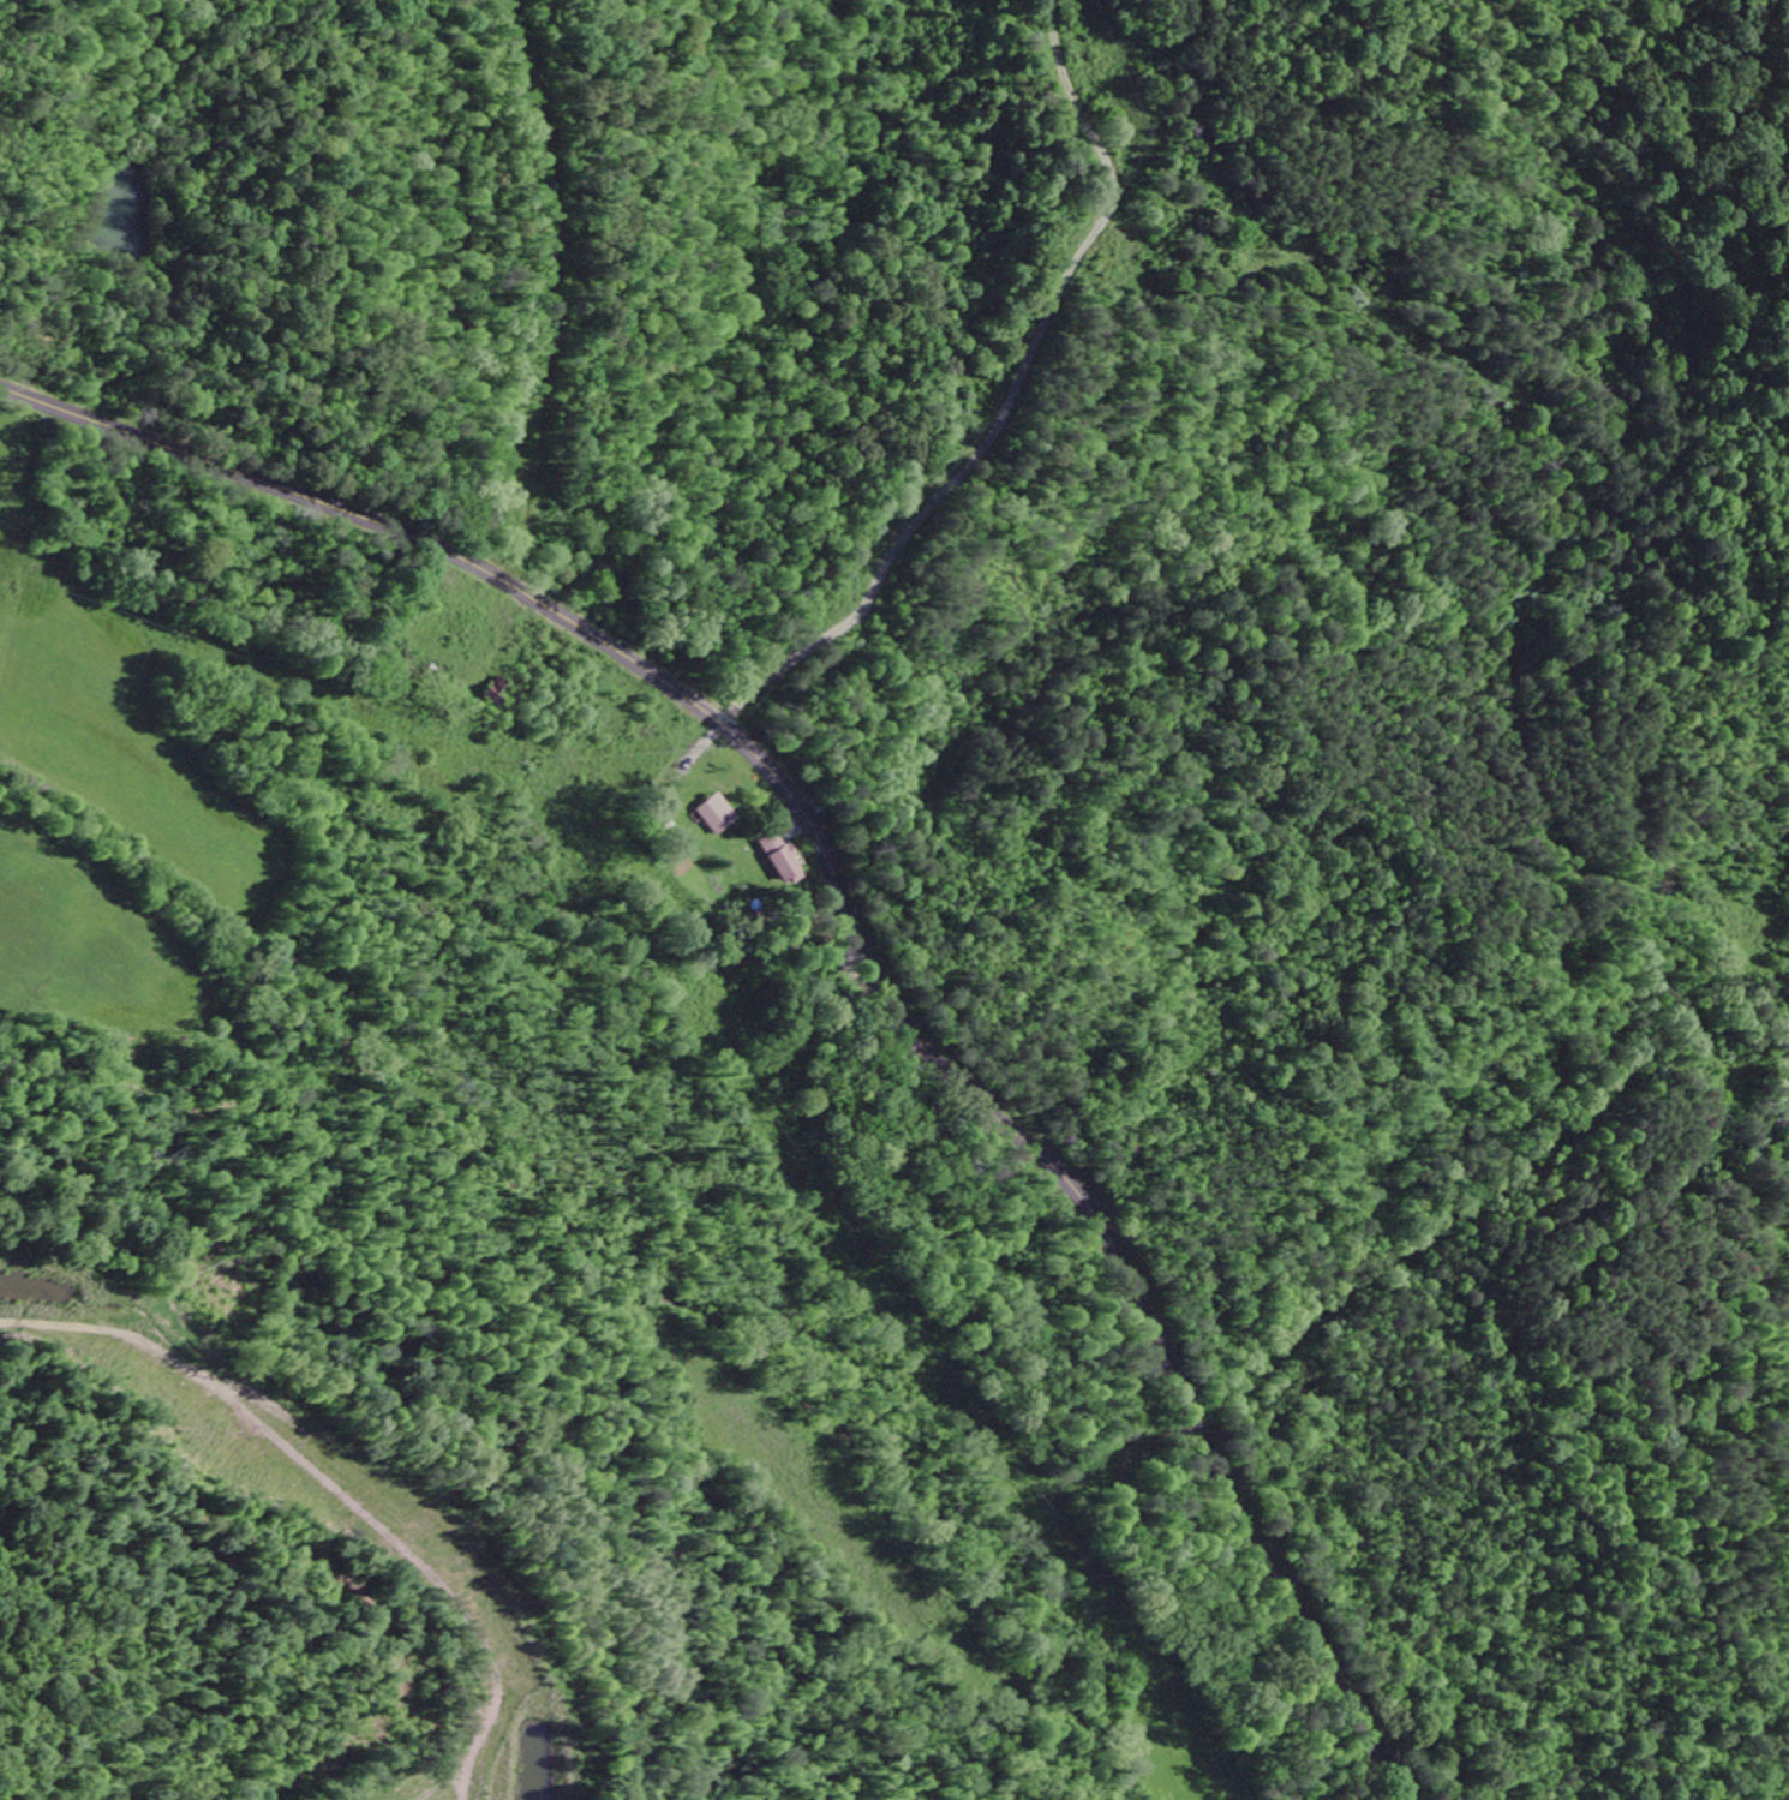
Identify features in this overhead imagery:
building: (717, 813)
building: (782, 856)
road: (843, 927)

